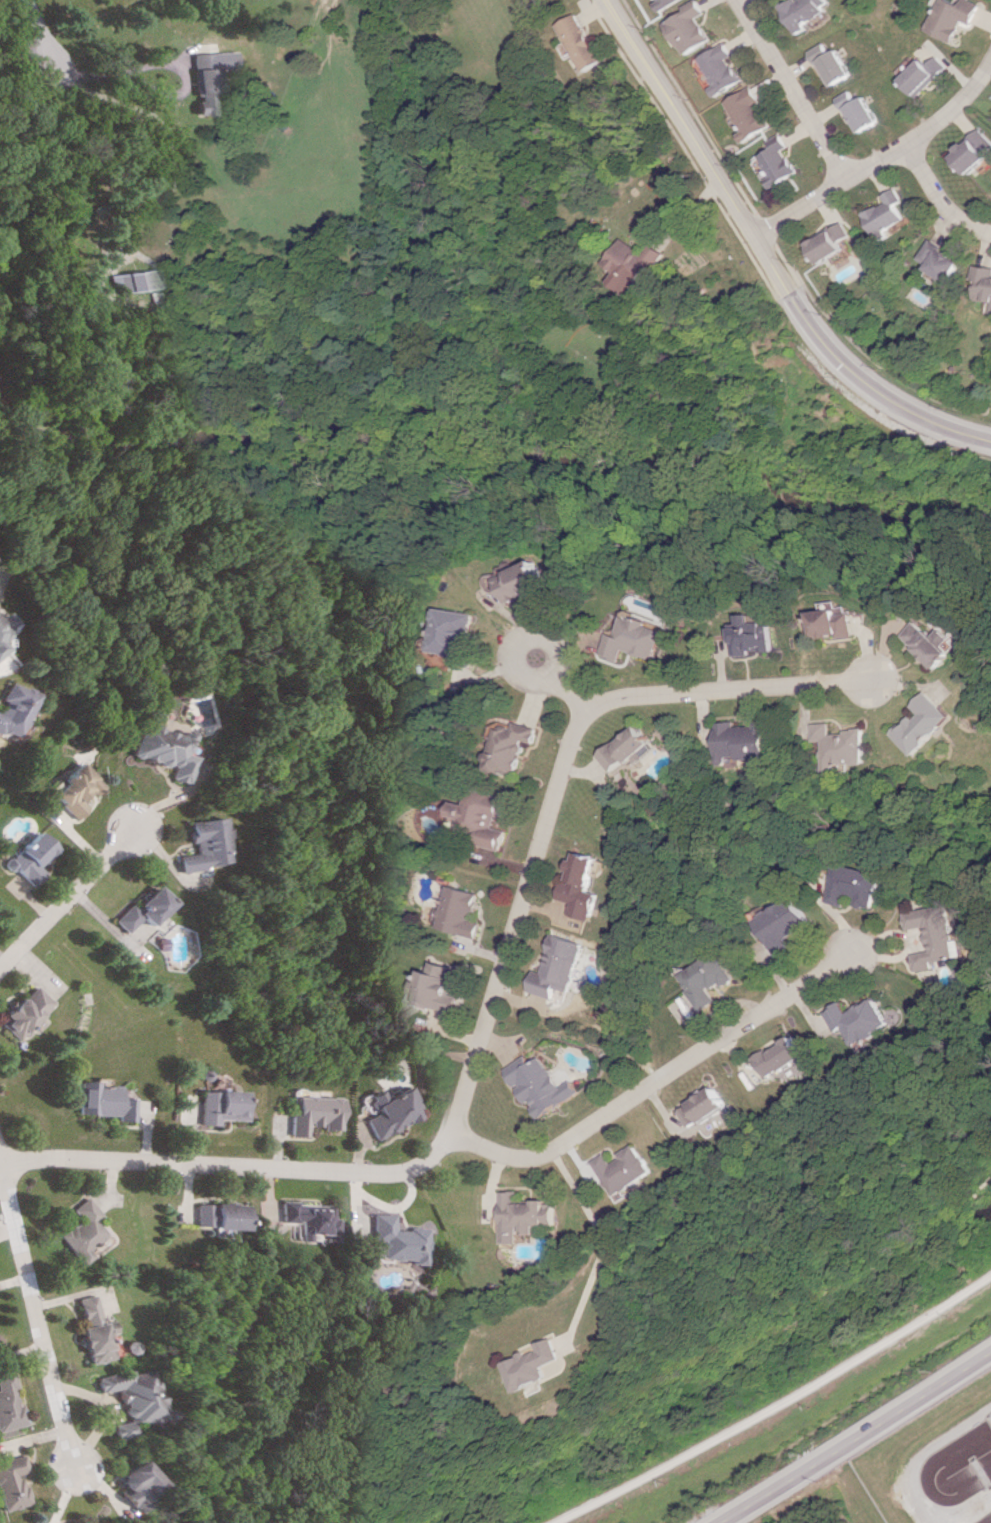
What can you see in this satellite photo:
building: (667, 3)
building: (803, 12)
building: (951, 17)
building: (691, 28)
road: (38, 30)
building: (580, 42)
road: (21, 51)
road: (155, 64)
building: (830, 64)
building: (721, 69)
building: (924, 75)
building: (204, 81)
road: (793, 91)
building: (860, 111)
building: (749, 113)
building: (974, 151)
road: (884, 160)
building: (780, 163)
road: (942, 198)
building: (887, 213)
building: (832, 242)
road: (768, 254)
building: (943, 261)
building: (634, 265)
building: (128, 280)
building: (985, 282)
building: (520, 582)
building: (828, 621)
building: (4, 624)
building: (453, 633)
building: (749, 636)
building: (632, 637)
building: (927, 643)
building: (0, 648)
road: (560, 685)
road: (726, 691)
building: (13, 709)
building: (923, 723)
building: (744, 741)
building: (509, 746)
building: (841, 747)
building: (161, 749)
building: (626, 749)
building: (76, 789)
building: (481, 818)
building: (204, 845)
building: (33, 858)
building: (853, 885)
building: (578, 886)
road: (66, 904)
building: (146, 908)
building: (458, 912)
road: (516, 922)
building: (782, 924)
building: (933, 935)
building: (555, 967)
building: (709, 979)
building: (432, 988)
building: (29, 1012)
building: (855, 1020)
building: (775, 1057)
road: (657, 1081)
building: (536, 1085)
building: (106, 1101)
building: (221, 1106)
building: (393, 1111)
building: (315, 1114)
road: (2, 1158)
road: (234, 1169)
building: (619, 1170)
building: (217, 1215)
building: (518, 1215)
building: (306, 1219)
building: (85, 1231)
building: (397, 1240)
road: (603, 1243)
road: (39, 1319)
building: (97, 1331)
building: (532, 1365)
building: (135, 1394)
building: (9, 1402)
road: (777, 1406)
building: (122, 1429)
road: (858, 1438)
road: (922, 1451)
wastewater plant: (926, 1466)
building: (10, 1481)
building: (134, 1485)

